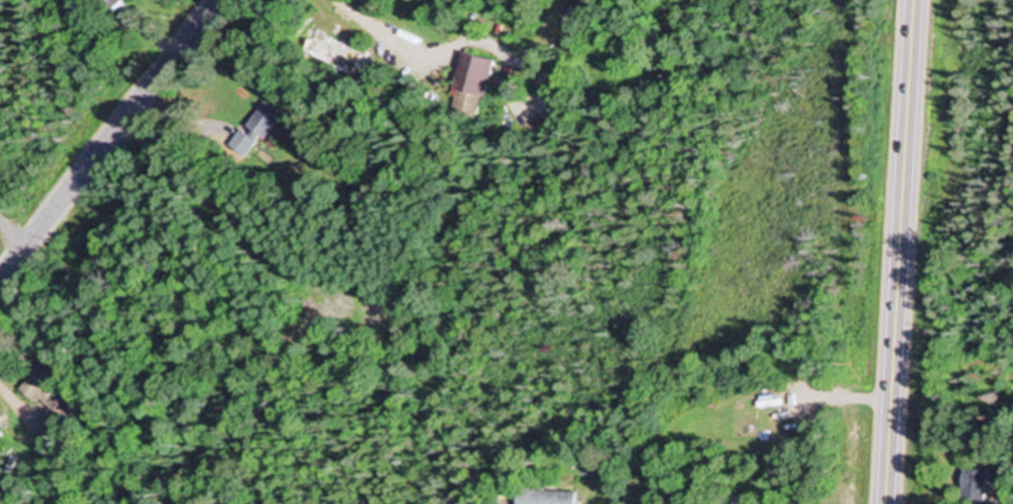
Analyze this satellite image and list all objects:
building: (337, 53)
building: (467, 77)
building: (271, 118)
road: (108, 140)
road: (900, 252)
building: (47, 387)
building: (978, 484)
building: (543, 498)
building: (744, 501)

